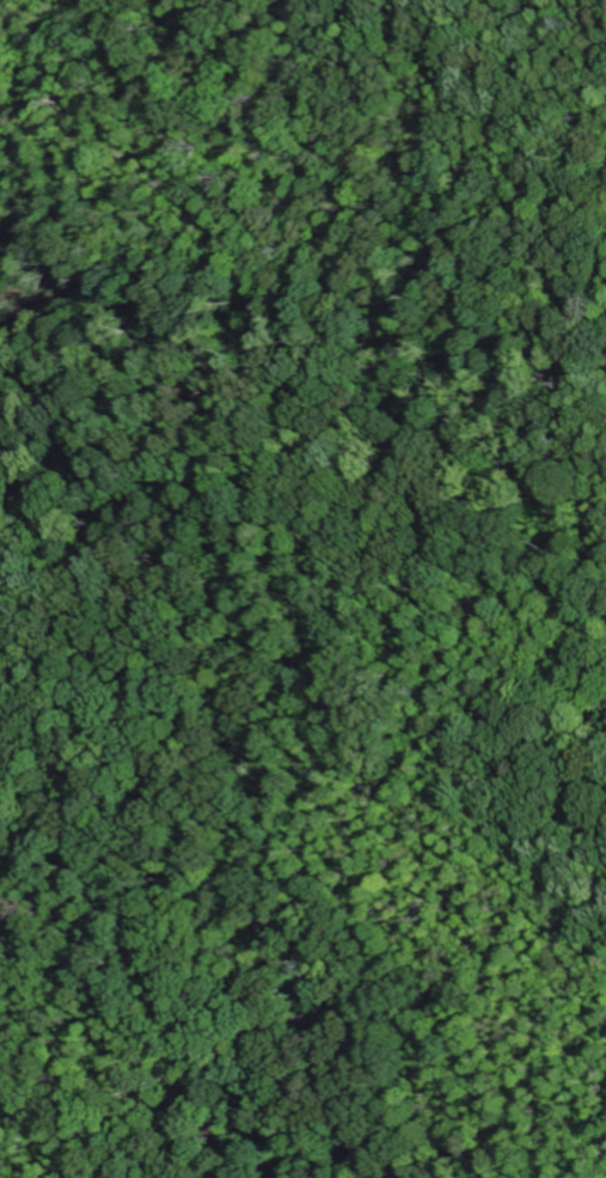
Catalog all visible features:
road: (550, 573)

